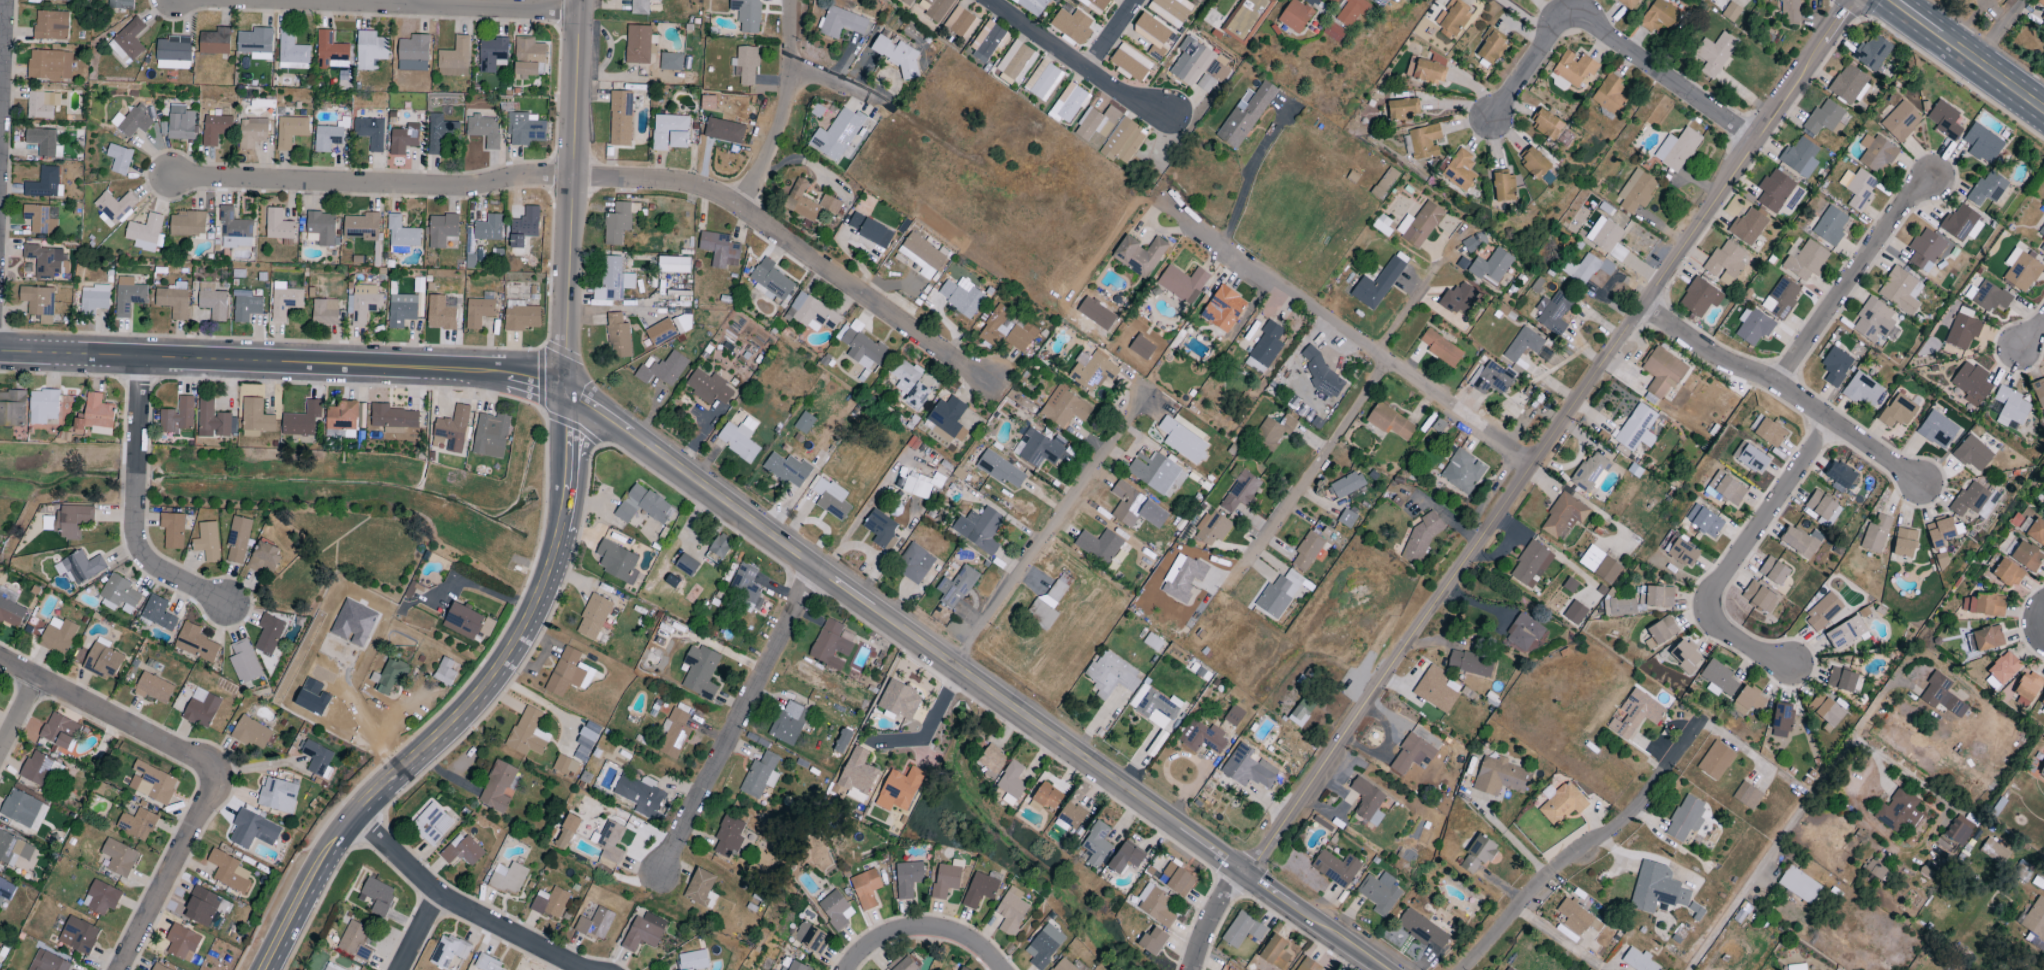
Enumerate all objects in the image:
building: (58, 0)
road: (987, 0)
building: (1333, 1)
building: (907, 2)
building: (1627, 3)
building: (2041, 3)
building: (120, 4)
road: (408, 4)
building: (1095, 5)
building: (1032, 6)
road: (392, 7)
building: (640, 7)
building: (934, 8)
building: (1171, 10)
building: (1352, 11)
building: (1731, 12)
building: (1790, 12)
building: (747, 15)
building: (1295, 16)
building: (1453, 16)
road: (1522, 17)
building: (1659, 17)
road: (1914, 17)
building: (2042, 18)
building: (1247, 20)
building: (841, 23)
building: (961, 23)
building: (51, 25)
building: (1072, 25)
building: (1151, 31)
road: (1999, 31)
building: (1334, 32)
road: (1113, 35)
road: (1610, 39)
building: (128, 41)
building: (215, 42)
building: (987, 42)
building: (256, 43)
building: (637, 45)
building: (1491, 47)
building: (529, 50)
building: (331, 51)
building: (370, 51)
building: (292, 52)
building: (173, 53)
building: (413, 53)
building: (491, 53)
building: (1871, 53)
building: (1714, 54)
building: (897, 55)
building: (454, 59)
road: (1075, 61)
building: (671, 62)
building: (1015, 62)
building: (747, 64)
building: (1130, 64)
building: (49, 65)
building: (1199, 66)
building: (1574, 68)
building: (1426, 70)
building: (525, 71)
road: (1991, 73)
road: (3, 77)
building: (1043, 80)
road: (837, 82)
building: (1848, 85)
building: (1609, 95)
building: (42, 104)
building: (1068, 104)
road: (785, 108)
building: (1404, 109)
building: (1245, 115)
building: (620, 118)
building: (1824, 120)
building: (1944, 120)
building: (131, 122)
building: (1900, 122)
building: (181, 123)
building: (1546, 124)
building: (1095, 126)
building: (215, 129)
building: (525, 129)
building: (484, 130)
building: (290, 131)
building: (724, 131)
building: (670, 132)
building: (252, 133)
building: (370, 133)
building: (440, 133)
building: (837, 135)
building: (327, 138)
building: (403, 139)
building: (42, 141)
building: (1123, 142)
building: (1425, 142)
building: (1982, 144)
building: (1676, 150)
building: (1877, 154)
building: (1800, 157)
building: (119, 159)
building: (1534, 162)
road: (797, 164)
building: (1458, 170)
road: (1248, 177)
road: (614, 179)
building: (1387, 180)
building: (44, 184)
building: (1503, 187)
building: (1858, 189)
building: (1987, 189)
building: (1636, 191)
building: (1774, 191)
road: (572, 194)
building: (809, 203)
building: (114, 208)
building: (41, 219)
building: (618, 223)
building: (1962, 224)
building: (188, 225)
building: (278, 225)
building: (1419, 225)
building: (1830, 226)
building: (363, 227)
building: (1748, 227)
building: (488, 228)
building: (524, 228)
building: (321, 229)
building: (235, 230)
building: (441, 230)
building: (870, 231)
building: (145, 233)
building: (402, 234)
building: (1606, 239)
building: (1474, 242)
building: (720, 250)
building: (1926, 250)
building: (921, 255)
building: (1139, 255)
building: (46, 261)
building: (1805, 261)
building: (1725, 263)
building: (673, 265)
building: (1491, 267)
building: (1585, 269)
building: (2022, 272)
road: (1854, 279)
building: (613, 281)
building: (770, 281)
building: (1183, 284)
building: (1377, 285)
building: (1900, 291)
building: (128, 296)
building: (961, 297)
building: (1988, 297)
building: (1699, 298)
building: (91, 299)
building: (1459, 299)
building: (1781, 299)
building: (173, 302)
building: (212, 302)
building: (284, 302)
building: (39, 303)
building: (363, 303)
building: (245, 306)
road: (1407, 307)
building: (1223, 309)
building: (401, 310)
building: (479, 310)
building: (324, 312)
building: (440, 313)
building: (812, 313)
building: (1555, 314)
building: (520, 316)
building: (1875, 322)
building: (682, 324)
building: (1753, 327)
building: (1963, 330)
building: (1006, 331)
building: (661, 332)
building: (618, 336)
road: (1351, 336)
road: (2034, 336)
building: (1523, 345)
building: (862, 348)
building: (1265, 348)
building: (1441, 349)
road: (283, 363)
building: (1835, 366)
building: (663, 370)
building: (1091, 371)
building: (1662, 373)
building: (1321, 374)
building: (1492, 378)
building: (1971, 382)
building: (909, 383)
building: (709, 388)
road: (1788, 389)
building: (1862, 390)
building: (2039, 392)
building: (43, 406)
building: (1064, 407)
building: (2010, 407)
building: (12, 409)
building: (1898, 411)
building: (96, 416)
building: (177, 417)
building: (361, 417)
building: (342, 418)
building: (255, 419)
building: (393, 419)
building: (302, 420)
building: (947, 420)
building: (214, 421)
building: (804, 423)
building: (1391, 423)
building: (1637, 428)
building: (1937, 430)
building: (451, 431)
building: (1273, 432)
building: (1769, 433)
building: (491, 435)
building: (1183, 439)
building: (738, 441)
building: (1039, 448)
building: (1972, 453)
building: (1752, 459)
road: (1319, 464)
building: (787, 469)
building: (999, 469)
building: (1462, 471)
building: (1590, 471)
building: (1156, 473)
building: (1840, 475)
road: (1522, 483)
building: (1346, 485)
building: (915, 488)
building: (1725, 489)
building: (1240, 491)
building: (830, 498)
road: (135, 506)
building: (643, 506)
building: (1135, 508)
building: (1822, 509)
building: (2043, 514)
building: (1563, 517)
building: (1346, 518)
building: (72, 520)
building: (1703, 521)
building: (879, 527)
building: (1212, 528)
building: (979, 529)
building: (172, 530)
building: (1940, 532)
building: (2036, 532)
building: (1875, 534)
building: (237, 539)
building: (1420, 539)
building: (207, 541)
building: (1801, 541)
building: (1904, 543)
building: (1098, 545)
building: (719, 547)
building: (1308, 552)
building: (1680, 552)
building: (2025, 555)
road: (1740, 556)
building: (263, 557)
road: (1033, 559)
building: (617, 561)
building: (914, 564)
building: (1530, 564)
building: (1599, 564)
building: (686, 565)
building: (80, 567)
building: (1773, 571)
building: (2007, 573)
building: (1182, 577)
building: (955, 587)
building: (745, 588)
building: (1278, 594)
building: (118, 595)
building: (1655, 597)
building: (1759, 597)
building: (1983, 605)
building: (1619, 606)
building: (1044, 608)
building: (1822, 612)
building: (11, 613)
building: (157, 613)
building: (1574, 613)
building: (593, 617)
building: (467, 622)
building: (353, 623)
building: (1660, 632)
building: (1523, 633)
building: (1845, 633)
building: (268, 634)
building: (58, 635)
building: (1984, 639)
building: (1152, 642)
building: (195, 643)
building: (831, 645)
building: (1685, 656)
building: (102, 660)
building: (243, 662)
building: (1469, 663)
building: (2003, 668)
building: (446, 671)
building: (700, 672)
building: (568, 673)
building: (1111, 675)
building: (389, 676)
road: (972, 679)
building: (1718, 679)
building: (1841, 680)
building: (153, 688)
building: (1436, 689)
building: (2022, 690)
building: (1941, 695)
building: (312, 697)
building: (899, 700)
building: (1747, 701)
road: (467, 702)
road: (541, 703)
building: (1154, 706)
building: (2042, 708)
building: (201, 710)
building: (1826, 711)
building: (1300, 712)
road: (18, 714)
road: (371, 714)
building: (1636, 714)
building: (1233, 716)
road: (118, 720)
road: (736, 720)
building: (1781, 720)
building: (788, 722)
road: (931, 723)
road: (1858, 725)
building: (60, 731)
building: (251, 732)
building: (527, 733)
building: (674, 733)
building: (1201, 737)
building: (586, 738)
building: (842, 740)
building: (1411, 754)
building: (317, 758)
building: (990, 761)
building: (1715, 761)
building: (564, 765)
road: (255, 766)
building: (1248, 768)
building: (40, 770)
building: (857, 772)
building: (2041, 772)
building: (759, 776)
building: (1500, 776)
building: (1011, 780)
building: (152, 783)
building: (497, 786)
building: (898, 789)
building: (639, 794)
building: (277, 795)
building: (1746, 796)
building: (1045, 798)
building: (1367, 801)
building: (1561, 804)
building: (20, 808)
building: (1898, 811)
building: (1068, 818)
building: (1685, 818)
building: (137, 824)
building: (431, 824)
building: (252, 830)
building: (566, 832)
building: (728, 836)
building: (1953, 837)
road: (1513, 843)
building: (608, 844)
building: (1096, 844)
building: (16, 851)
building: (461, 851)
building: (1993, 851)
road: (1583, 852)
building: (1477, 854)
building: (119, 858)
building: (1125, 858)
building: (1336, 868)
building: (1873, 871)
building: (2022, 871)
building: (228, 872)
building: (508, 878)
building: (907, 879)
building: (1178, 879)
road: (1749, 883)
road: (164, 884)
building: (1798, 885)
building: (699, 886)
building: (865, 888)
building: (1656, 888)
building: (6, 890)
building: (979, 890)
road: (438, 892)
building: (1379, 893)
building: (377, 896)
building: (101, 898)
building: (550, 903)
building: (1155, 905)
building: (201, 906)
building: (835, 909)
building: (1011, 911)
building: (1577, 918)
building: (2034, 919)
building: (595, 924)
road: (924, 928)
building: (1421, 929)
building: (1242, 930)
road: (419, 932)
building: (643, 932)
building: (78, 935)
building: (810, 937)
building: (354, 941)
building: (1153, 941)
building: (182, 943)
building: (1043, 946)
building: (449, 951)
building: (1275, 953)
road: (561, 959)
building: (692, 960)
building: (1637, 960)
building: (47, 962)
building: (487, 964)
building: (905, 965)
building: (1067, 965)
building: (1307, 965)
building: (795, 966)
building: (158, 967)
building: (331, 967)
building: (1796, 967)
building: (963, 968)
building: (1226, 968)
building: (1508, 969)
building: (1588, 969)

